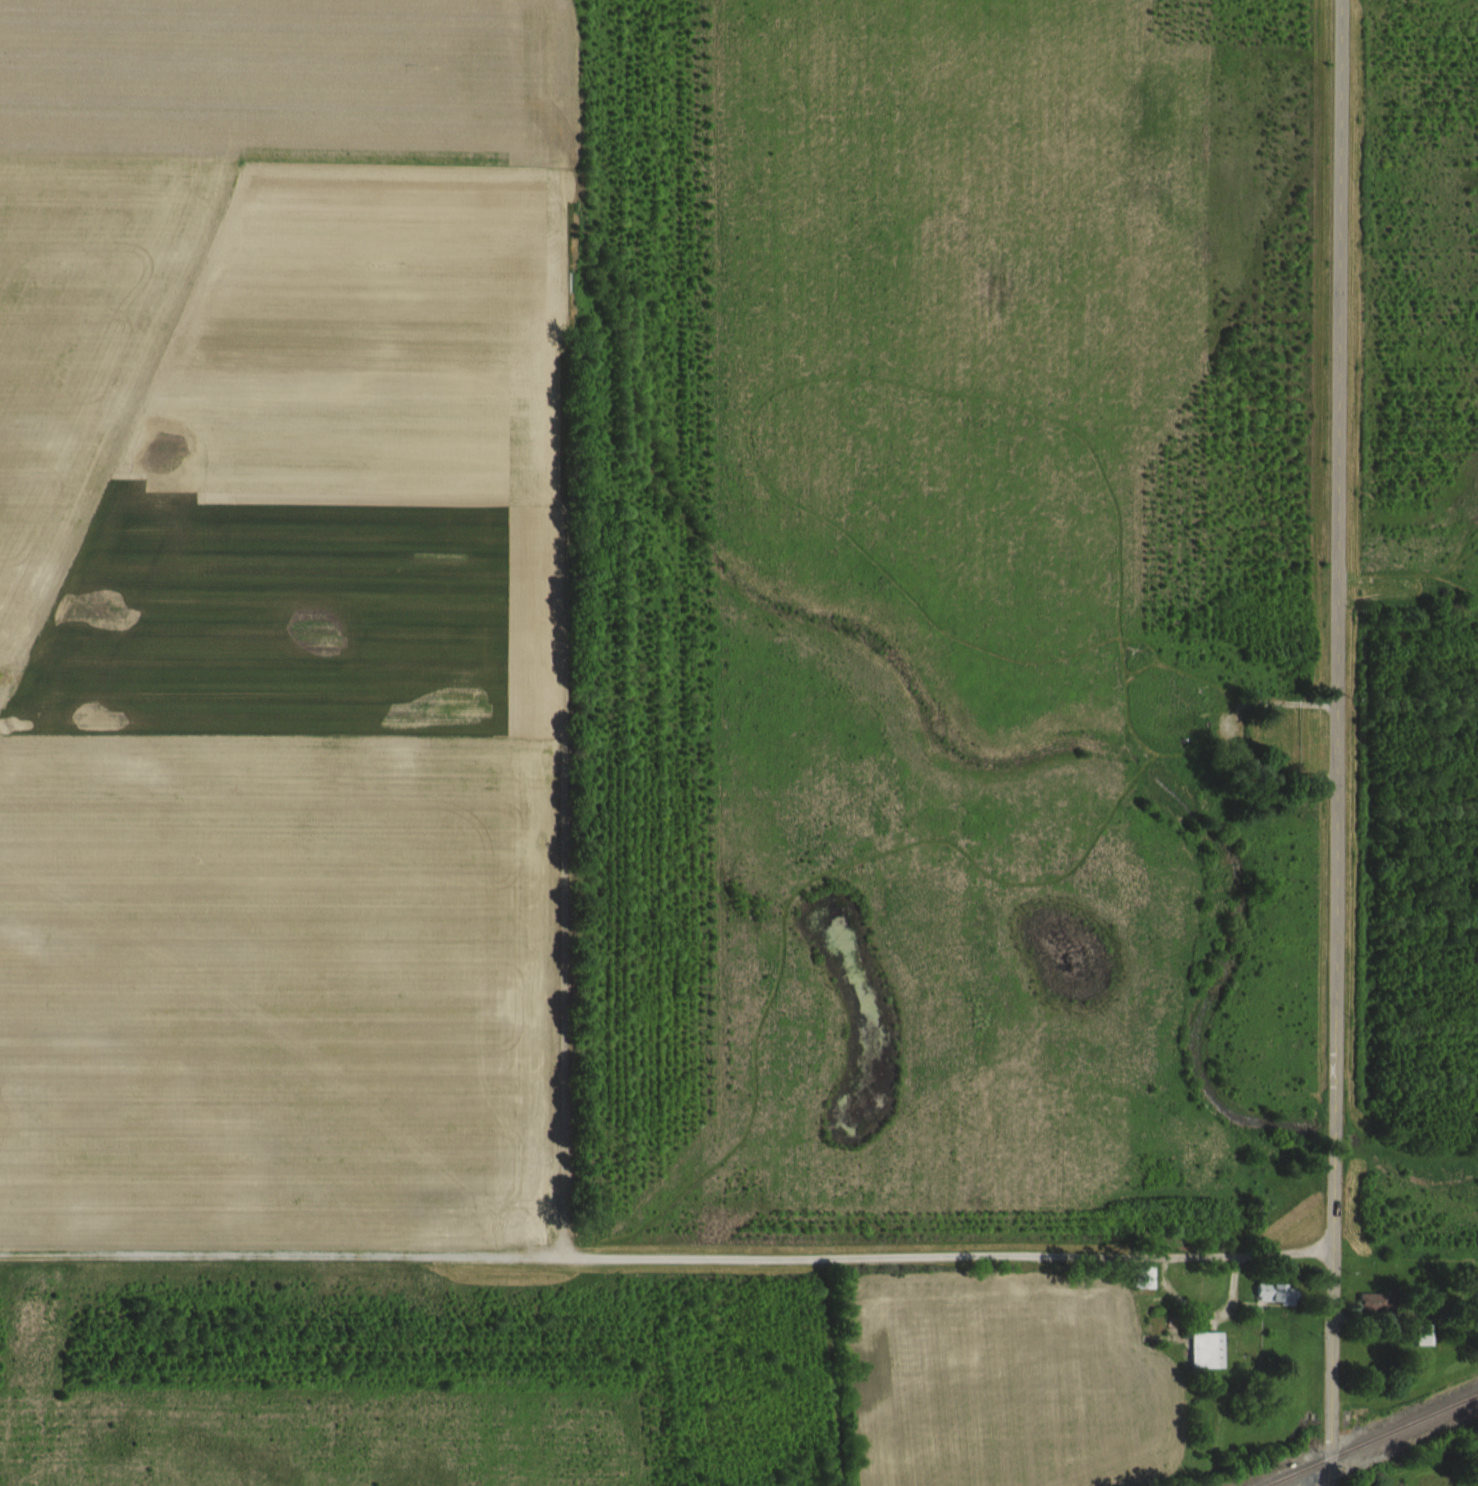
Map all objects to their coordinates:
road: (1035, 407)
road: (1463, 549)
road: (1467, 560)
road: (1442, 571)
road: (893, 575)
road: (1455, 584)
road: (1388, 594)
road: (1147, 637)
road: (1146, 668)
road: (1207, 674)
road: (1127, 697)
parking lot: (1317, 738)
road: (1223, 741)
road: (1339, 743)
building: (1238, 759)
road: (813, 874)
road: (281, 1251)
road: (949, 1252)
road: (813, 1268)
building: (1154, 1291)
building: (1285, 1307)
building: (1381, 1317)
building: (1434, 1348)
building: (1217, 1364)
railway: (1372, 1440)

